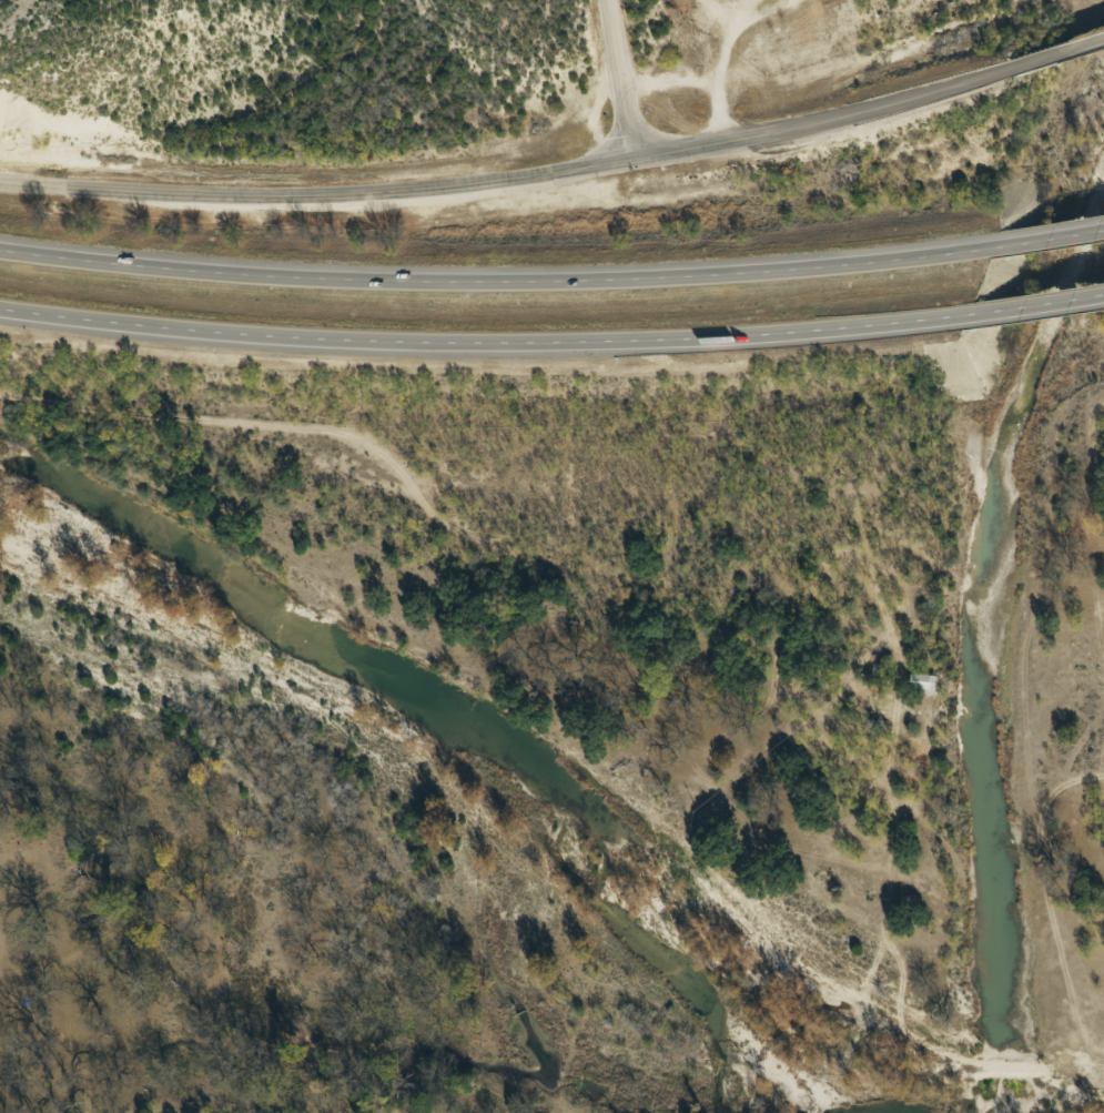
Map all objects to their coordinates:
road: (1056, 54)
road: (618, 81)
road: (821, 122)
road: (316, 196)
road: (1045, 241)
road: (493, 281)
road: (1037, 307)
road: (485, 347)
building: (923, 684)
river: (464, 726)

